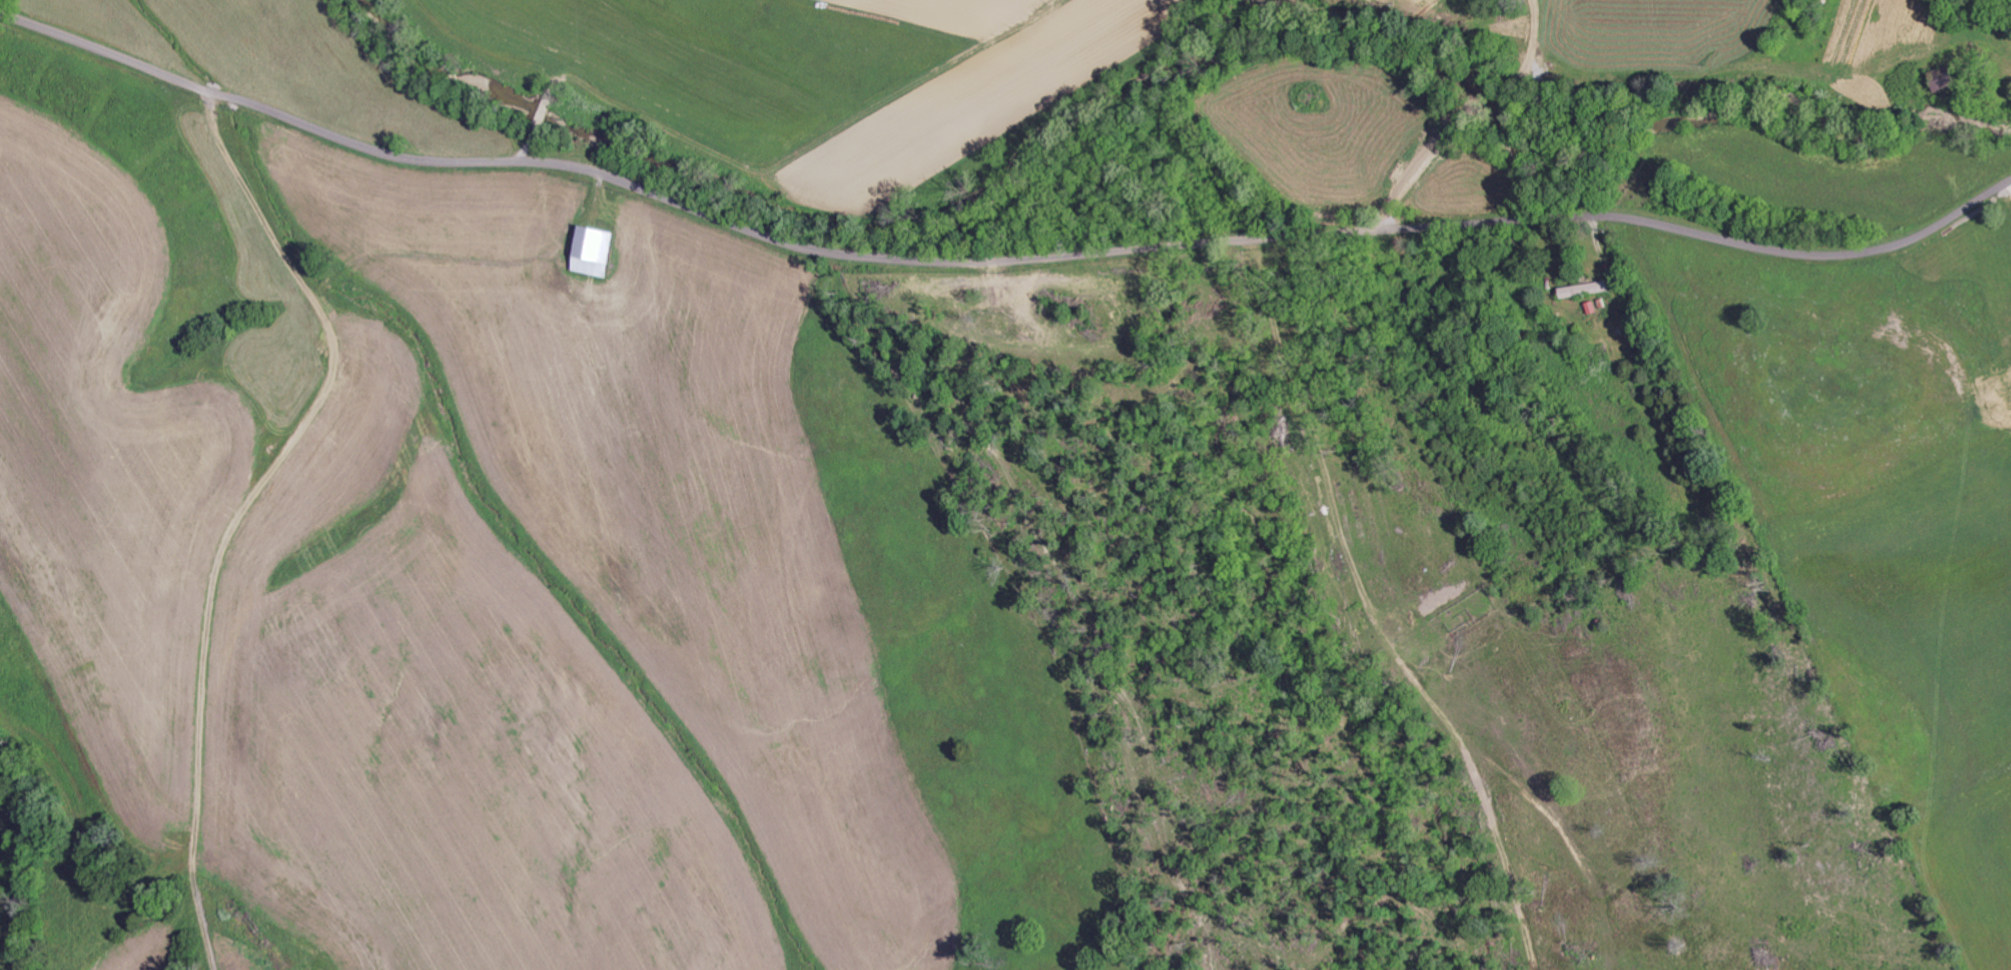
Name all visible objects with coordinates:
road: (594, 114)
building: (599, 250)
road: (997, 261)

